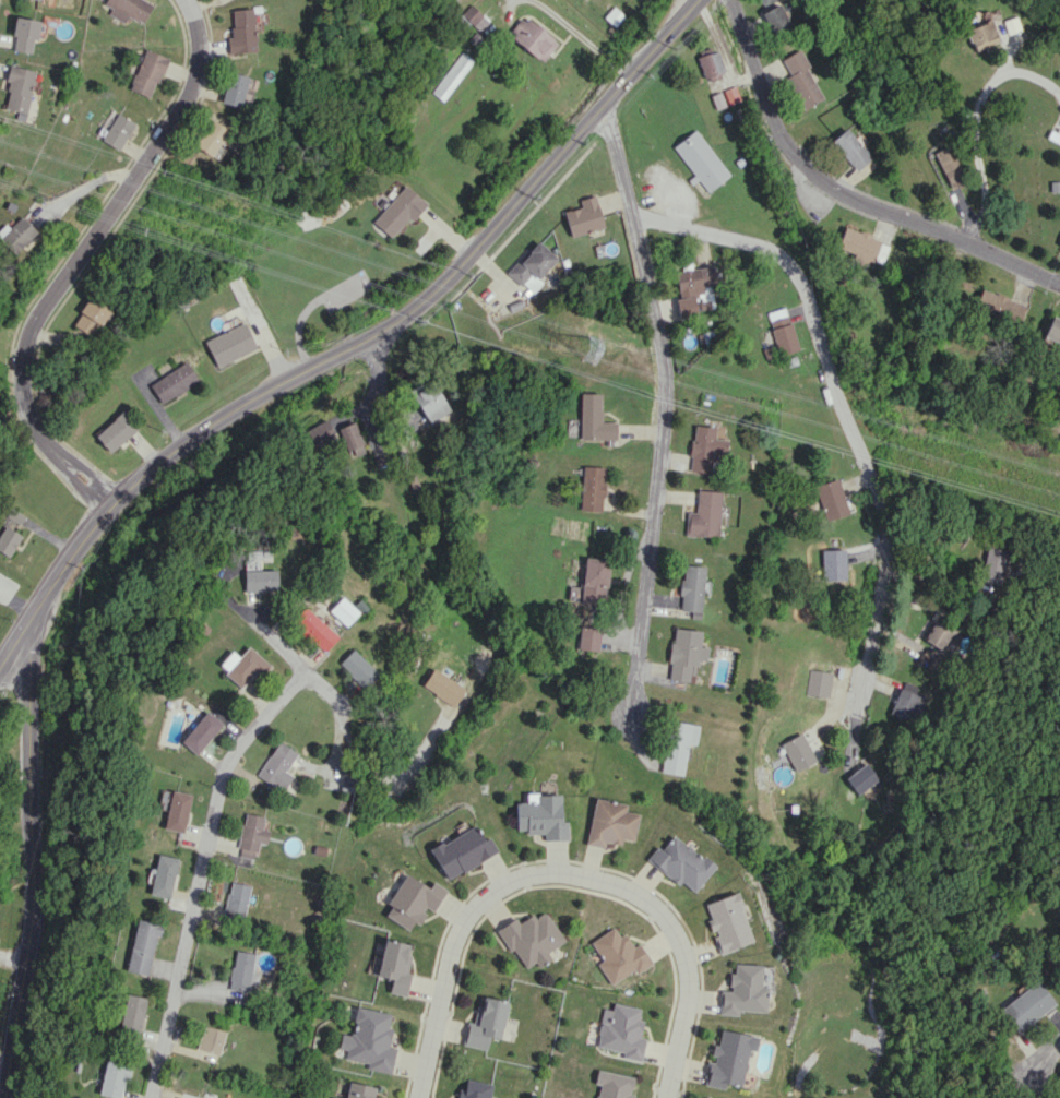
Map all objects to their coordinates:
road: (513, 1)
building: (765, 2)
building: (128, 9)
building: (775, 16)
building: (474, 17)
building: (241, 31)
building: (24, 35)
building: (980, 35)
road: (591, 36)
building: (531, 38)
building: (708, 63)
building: (147, 73)
building: (452, 75)
building: (800, 80)
building: (17, 88)
building: (234, 88)
road: (974, 122)
building: (117, 131)
building: (210, 136)
building: (850, 148)
building: (700, 159)
building: (950, 167)
road: (85, 186)
road: (844, 196)
building: (398, 210)
building: (583, 217)
building: (16, 234)
building: (1059, 248)
road: (83, 255)
building: (532, 266)
building: (691, 288)
building: (1000, 306)
building: (90, 315)
building: (1052, 330)
building: (782, 335)
road: (353, 343)
building: (229, 344)
power tower: (588, 350)
building: (172, 382)
building: (428, 399)
road: (670, 402)
road: (842, 407)
road: (15, 417)
building: (593, 418)
building: (115, 431)
building: (350, 439)
building: (703, 447)
building: (591, 488)
building: (830, 499)
building: (702, 514)
building: (8, 540)
building: (831, 564)
building: (992, 564)
building: (259, 580)
building: (592, 580)
building: (690, 587)
building: (342, 611)
road: (247, 618)
building: (311, 629)
building: (943, 634)
building: (587, 640)
building: (683, 653)
building: (241, 665)
building: (356, 668)
building: (817, 682)
building: (442, 687)
road: (283, 695)
building: (906, 705)
building: (200, 732)
building: (677, 745)
road: (336, 752)
building: (796, 752)
building: (276, 767)
building: (861, 775)
road: (390, 784)
building: (176, 811)
building: (540, 816)
building: (609, 823)
building: (250, 835)
building: (461, 851)
road: (31, 860)
building: (679, 863)
building: (162, 875)
road: (562, 878)
building: (236, 899)
building: (410, 900)
building: (725, 922)
road: (191, 928)
building: (529, 939)
building: (142, 945)
building: (618, 955)
building: (393, 966)
building: (242, 971)
building: (740, 991)
building: (1027, 1005)
building: (131, 1013)
building: (485, 1023)
building: (620, 1030)
building: (210, 1039)
building: (368, 1040)
building: (726, 1059)
road: (1046, 1059)
building: (112, 1078)
building: (611, 1084)
building: (474, 1089)
building: (358, 1090)
building: (180, 1097)

